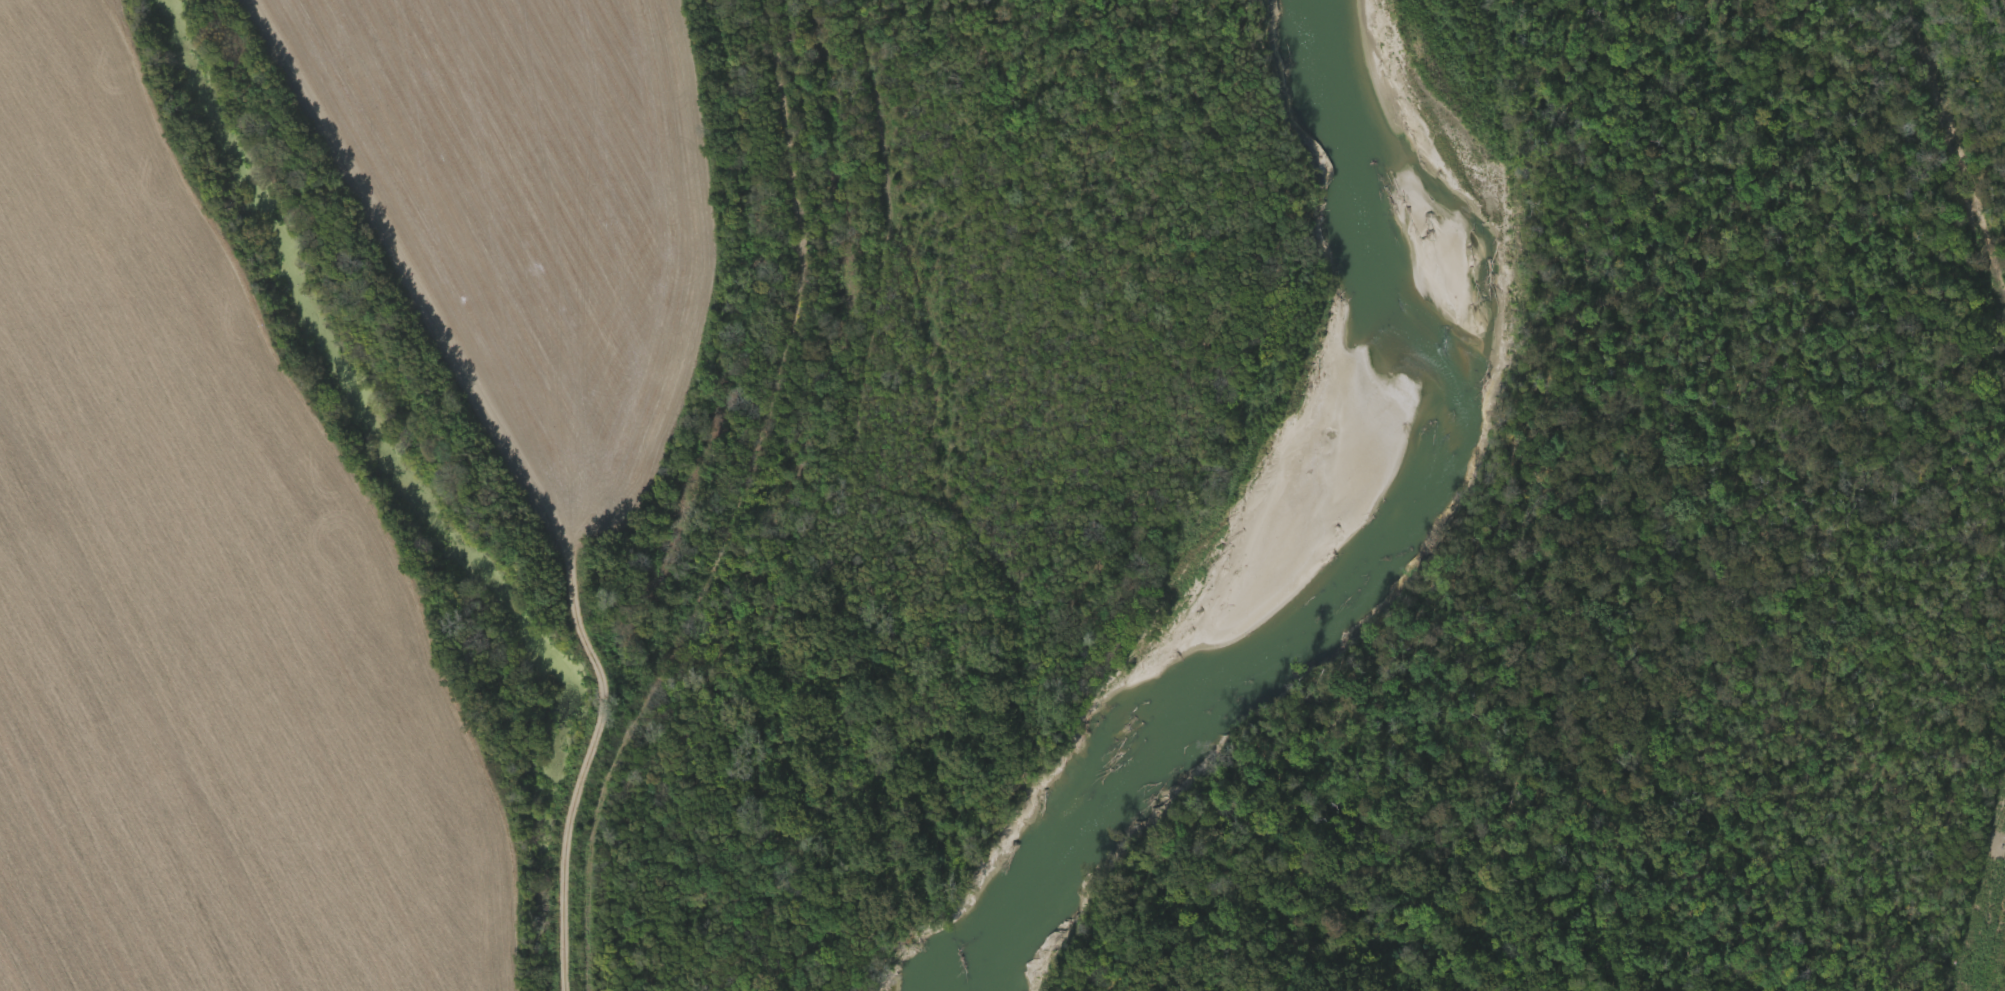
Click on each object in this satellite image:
crop: (537, 222)
river: (1281, 523)
crop: (216, 608)

